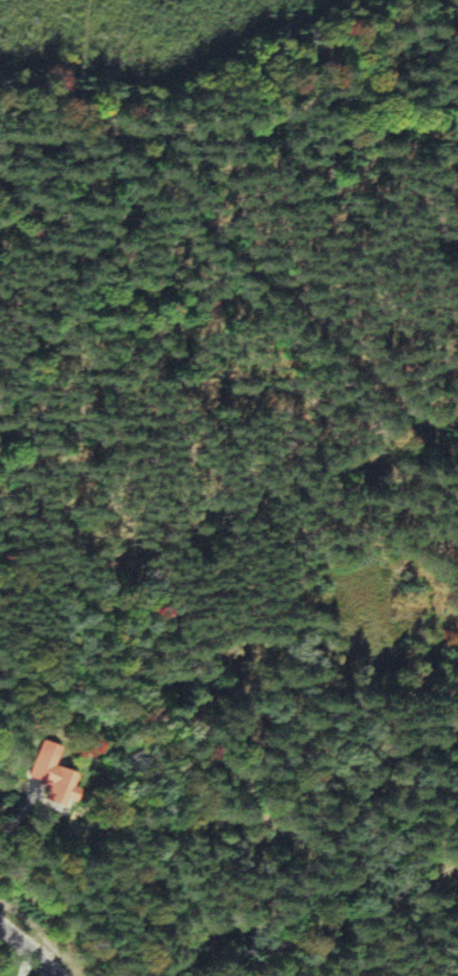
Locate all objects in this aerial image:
building: (46, 775)
road: (234, 848)
road: (23, 953)

